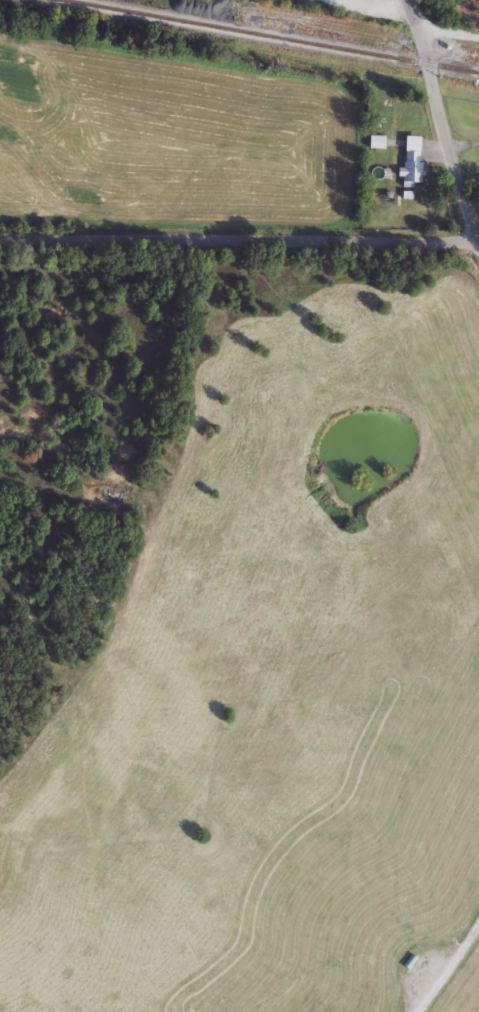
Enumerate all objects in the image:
road: (398, 1)
road: (447, 29)
railway: (266, 36)
road: (441, 119)
building: (411, 158)
road: (238, 238)
road: (477, 243)
road: (448, 965)

